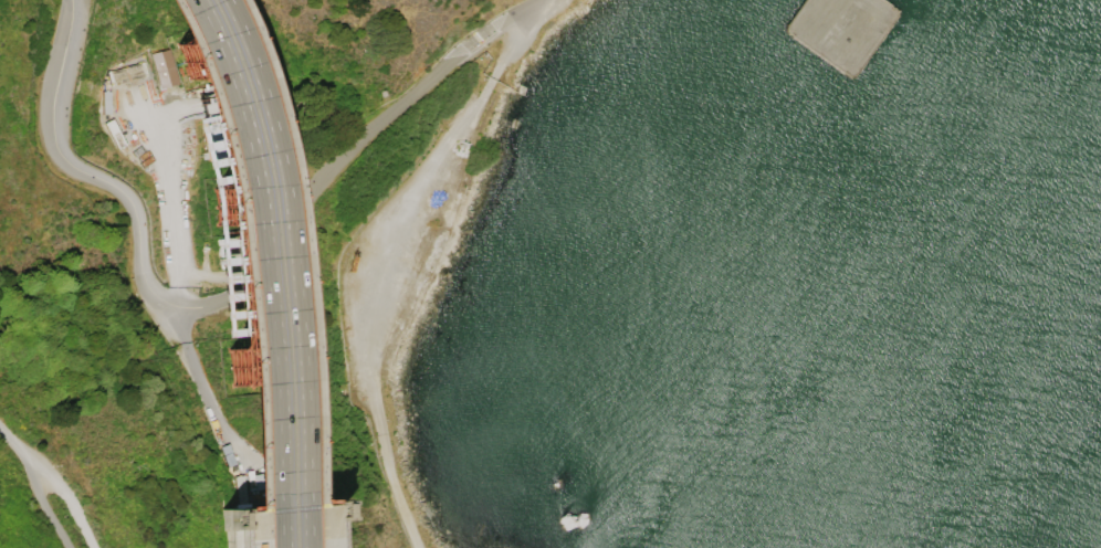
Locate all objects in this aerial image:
pier: (899, 11)
road: (507, 19)
pier: (840, 30)
road: (515, 40)
building: (162, 67)
road: (165, 203)
road: (182, 204)
road: (226, 268)
road: (243, 270)
road: (264, 271)
road: (283, 271)
road: (376, 302)
road: (205, 307)
road: (197, 372)
road: (18, 450)
road: (70, 503)
road: (49, 512)

